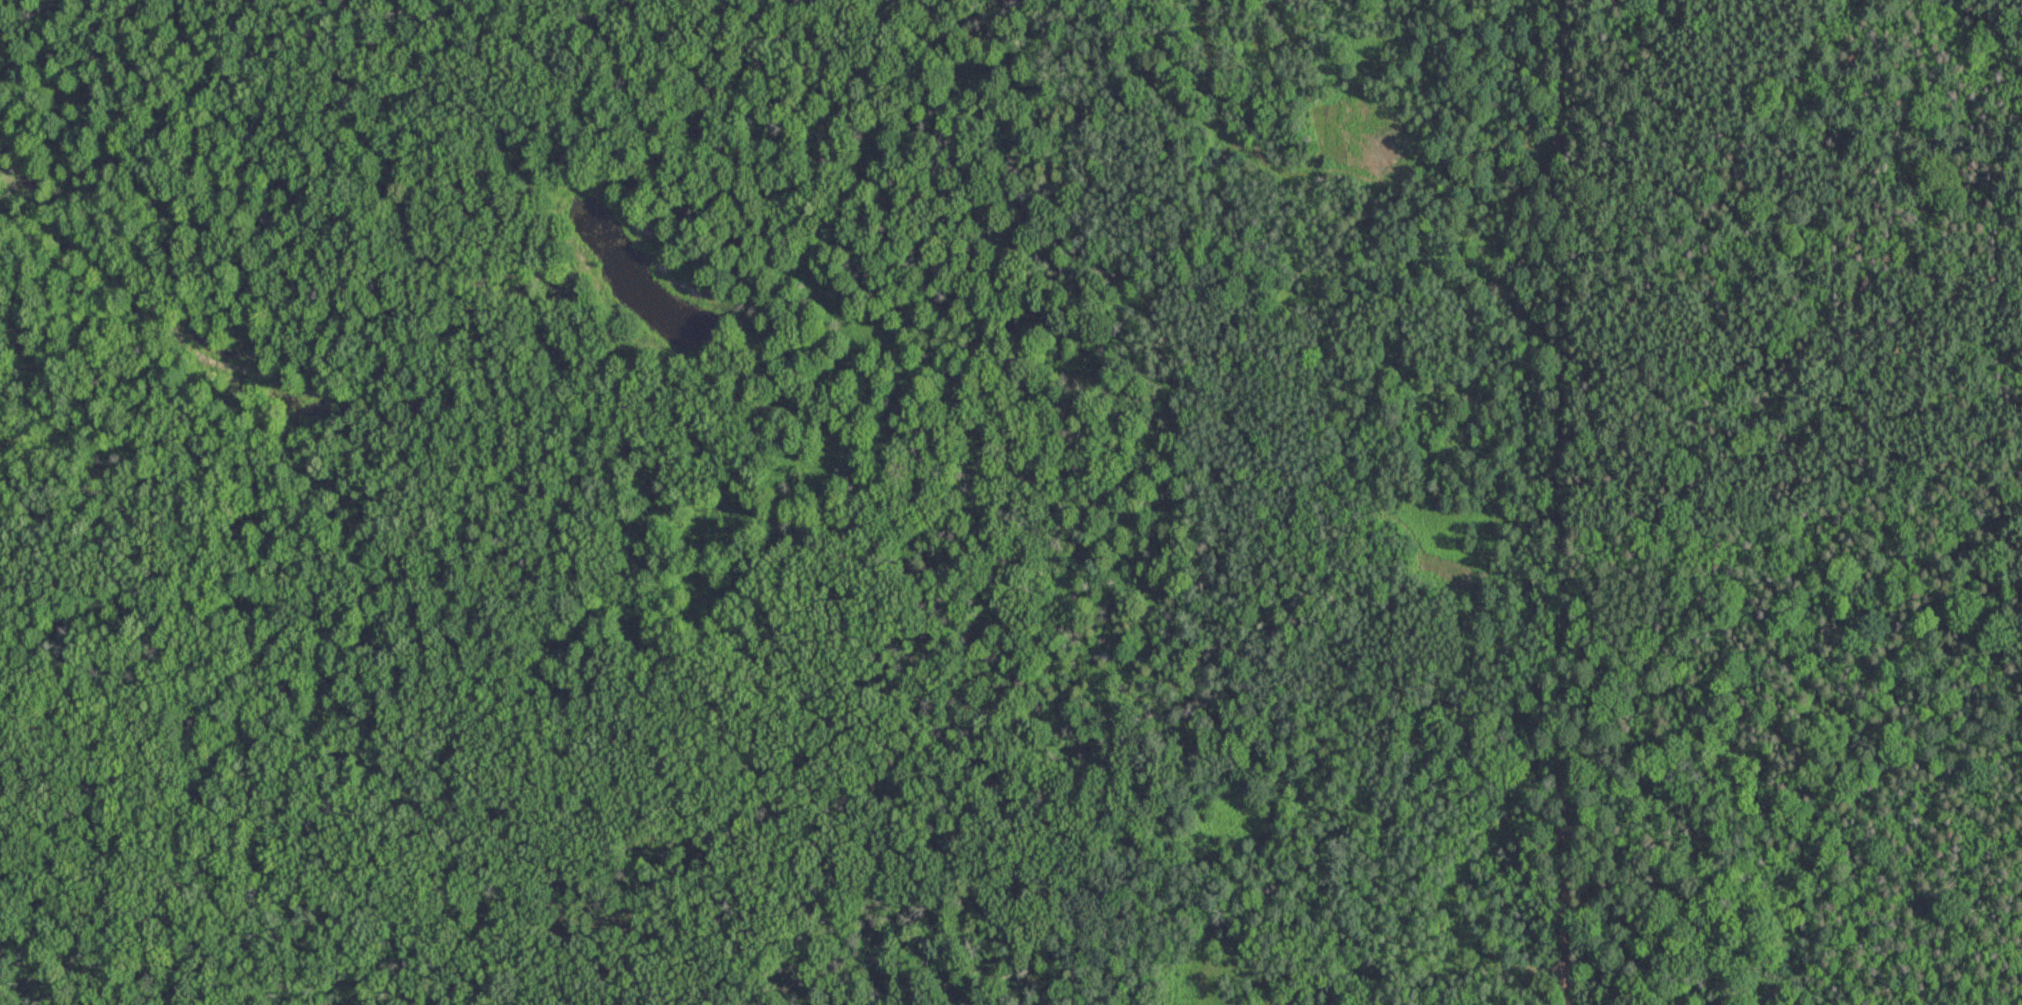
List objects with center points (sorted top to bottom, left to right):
road: (1555, 502)

